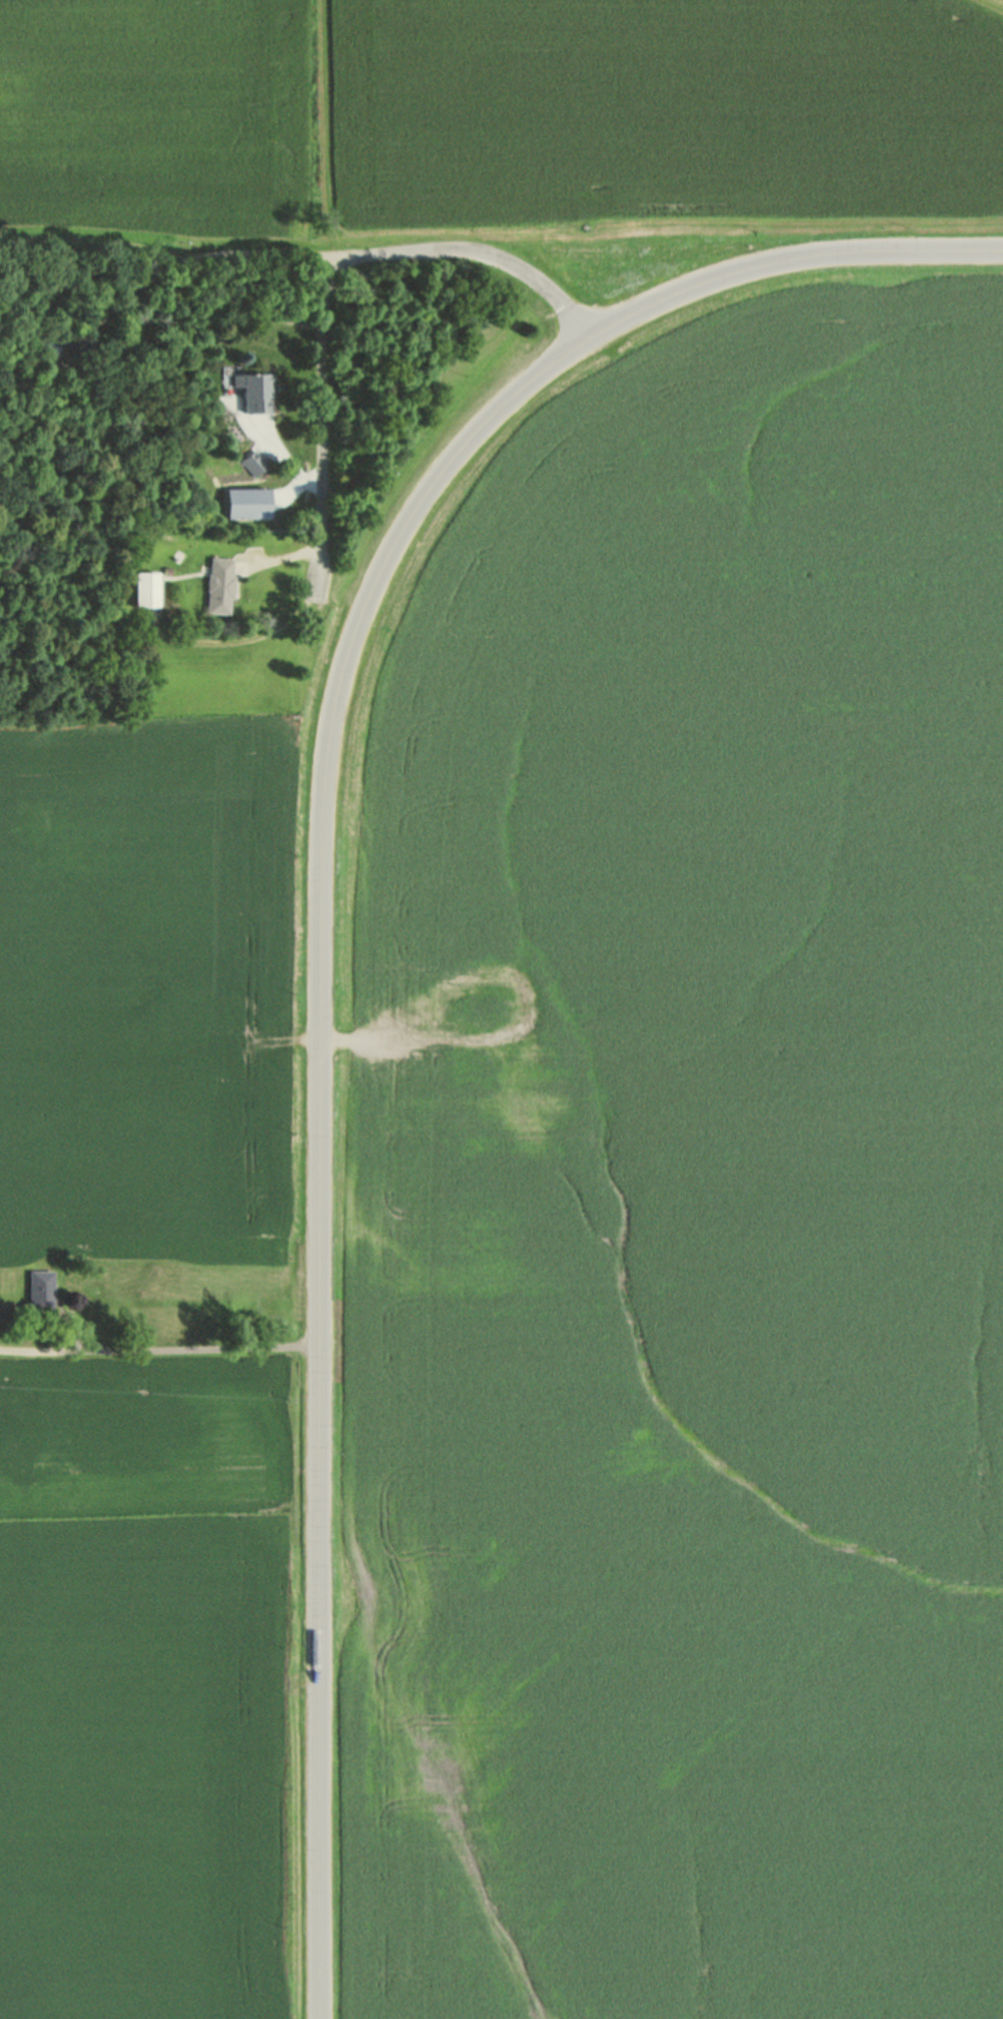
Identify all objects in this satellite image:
road: (95, 240)
road: (329, 286)
road: (108, 305)
building: (44, 346)
building: (253, 390)
road: (285, 457)
building: (254, 462)
building: (269, 507)
road: (278, 556)
road: (124, 565)
building: (218, 586)
building: (143, 588)
road: (230, 641)
road: (325, 919)
road: (326, 1045)
building: (39, 1291)
road: (160, 1349)

